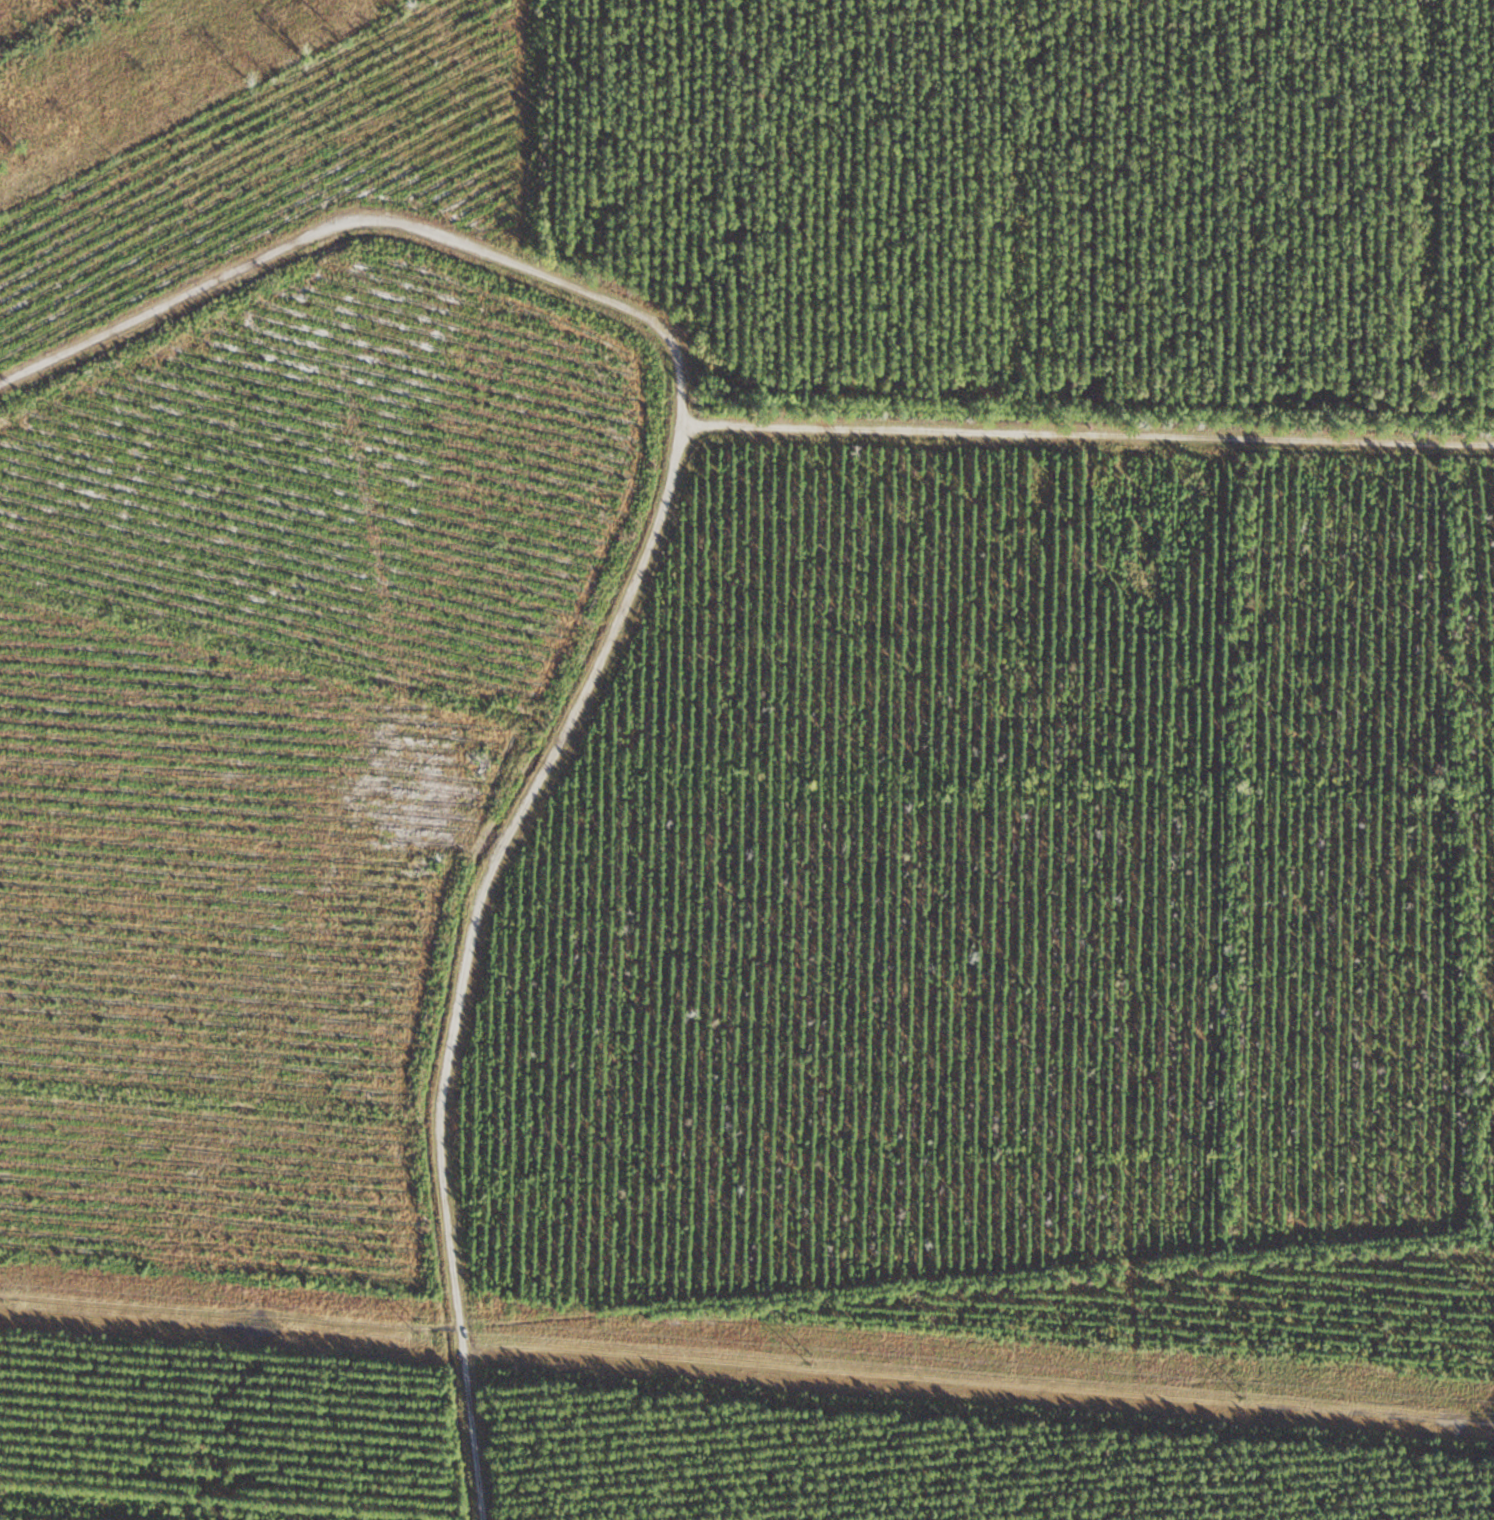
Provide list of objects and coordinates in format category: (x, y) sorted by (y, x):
road: (349, 276)
road: (1079, 464)
road: (438, 964)
power tower: (1, 1291)
power tower: (413, 1324)
power tower: (808, 1355)
power tower: (1240, 1391)

